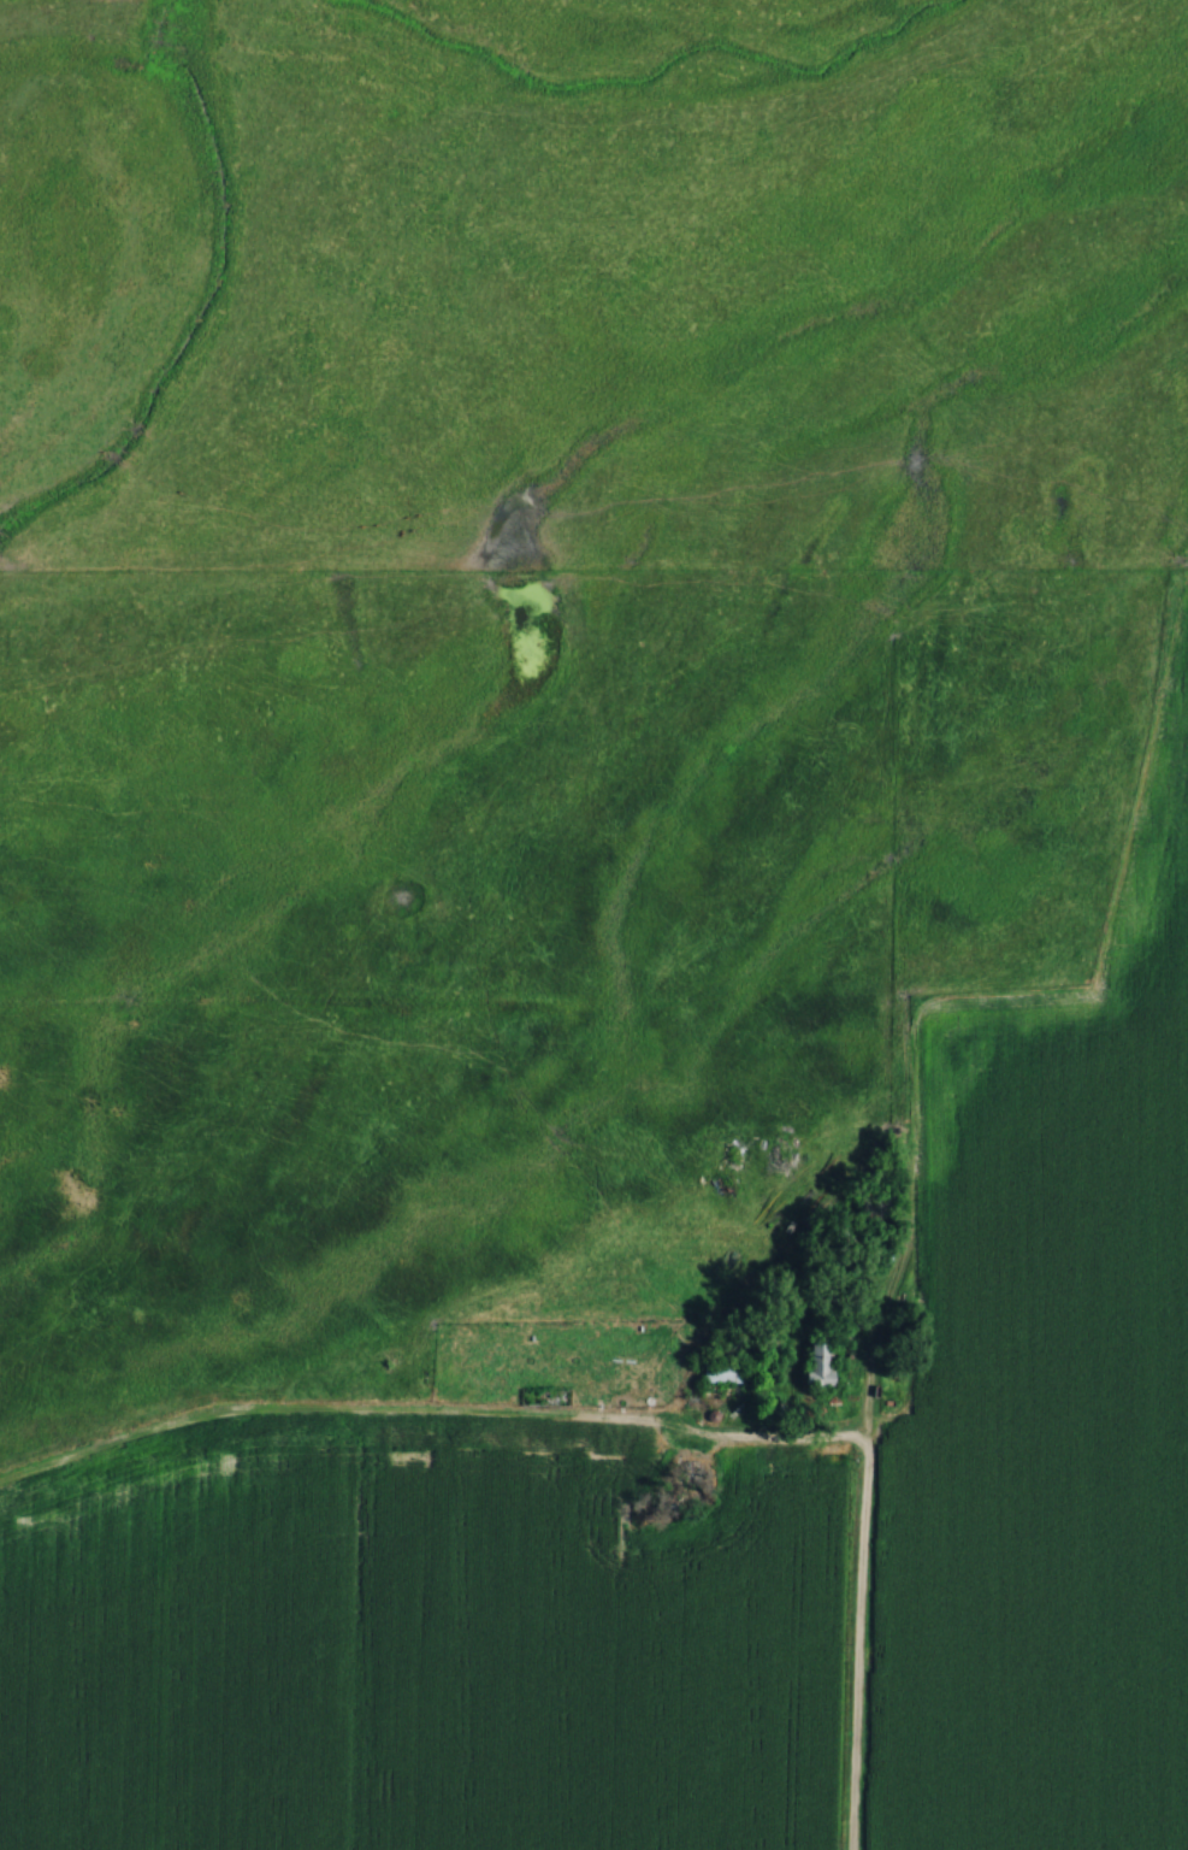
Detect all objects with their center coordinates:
river: (652, 73)
river: (203, 302)
building: (814, 1363)
building: (719, 1372)
building: (526, 1462)
road: (858, 1610)

